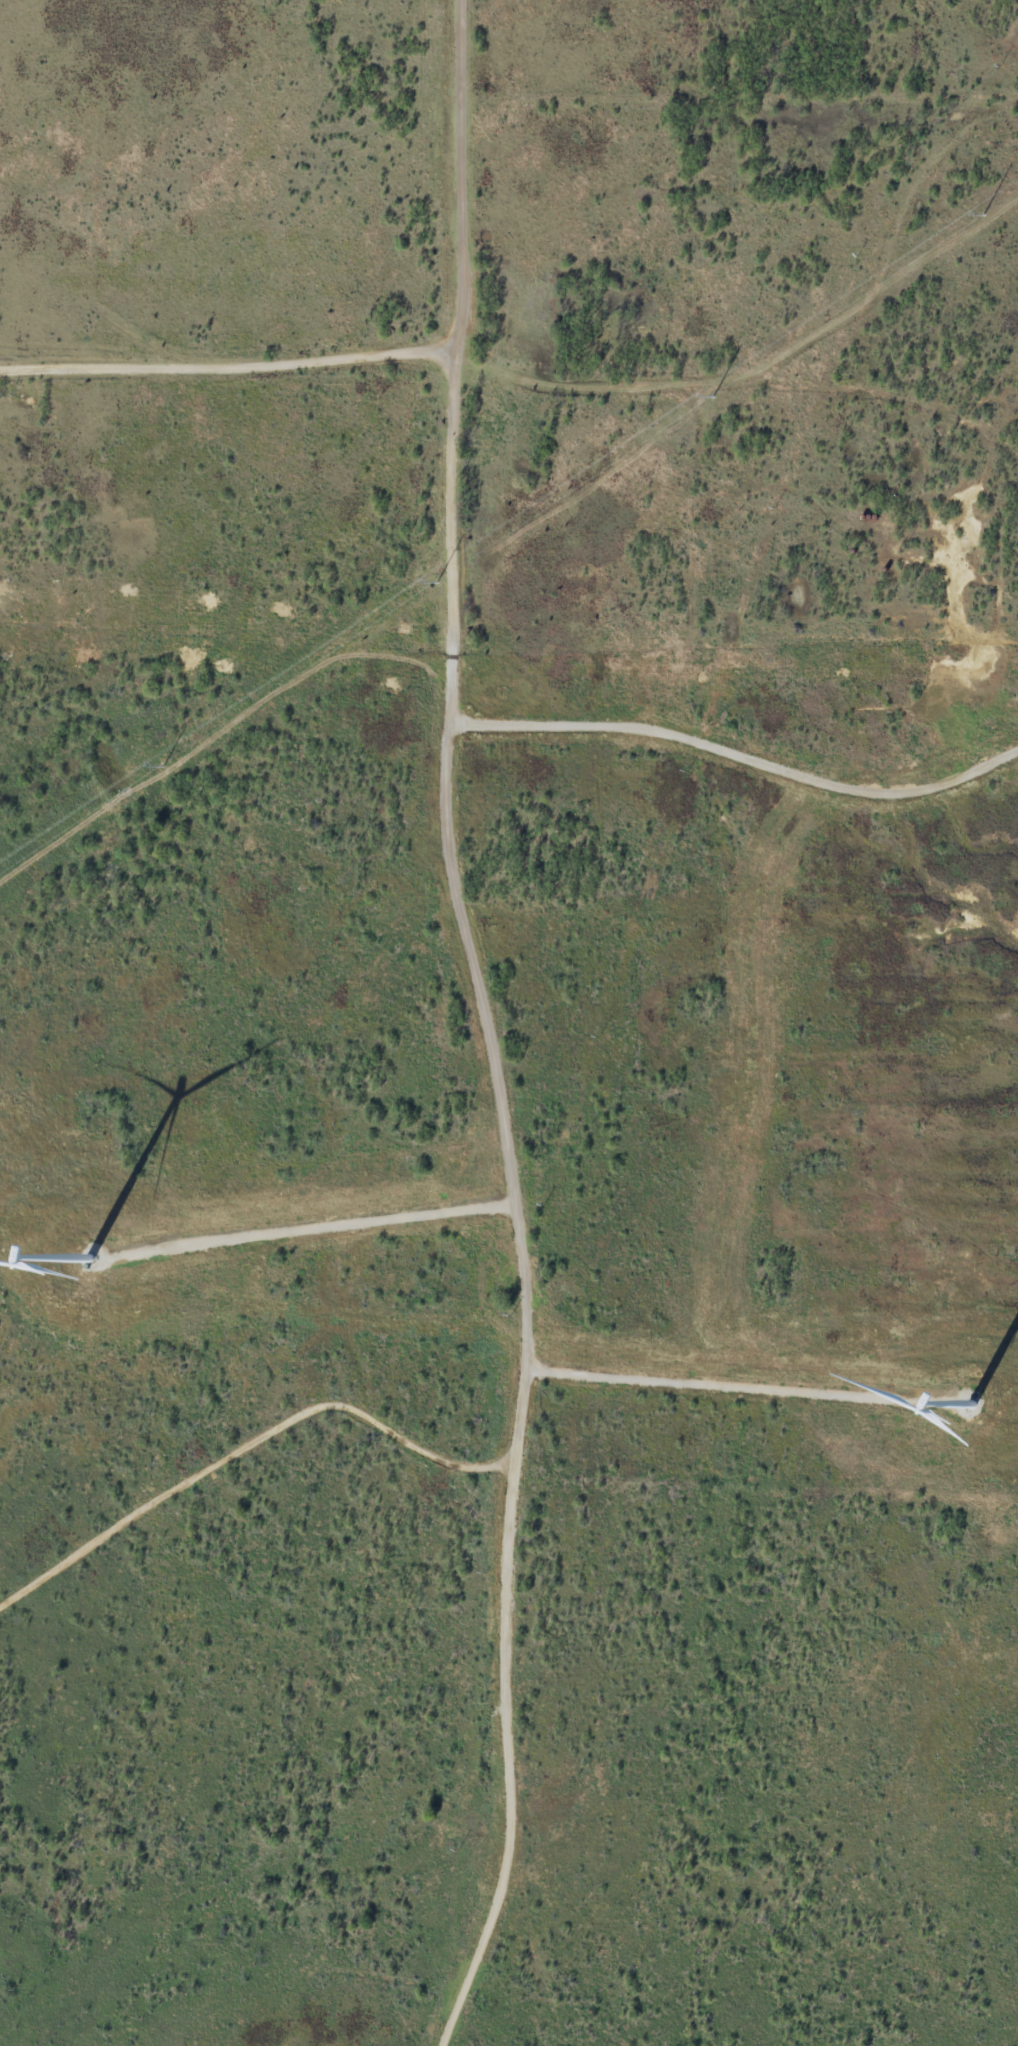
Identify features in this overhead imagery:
road: (583, 406)
road: (898, 465)
road: (434, 785)
road: (147, 1157)
wind turbine: (87, 1260)
wind turbine: (967, 1408)
road: (236, 1504)
road: (504, 1732)

